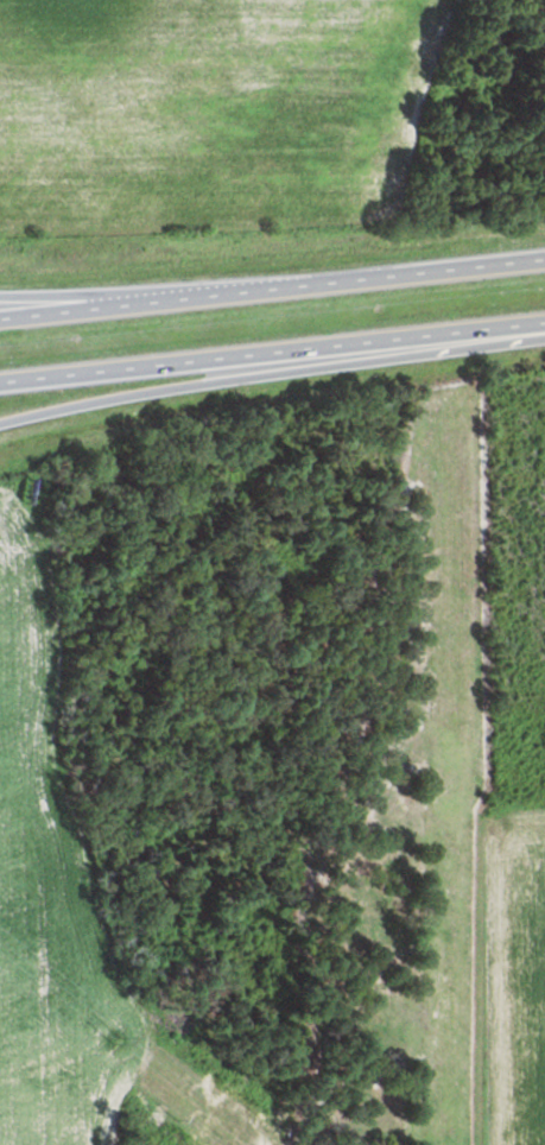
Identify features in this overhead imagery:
road: (272, 289)
road: (88, 297)
road: (272, 352)
road: (272, 372)
power tower: (118, 1035)

